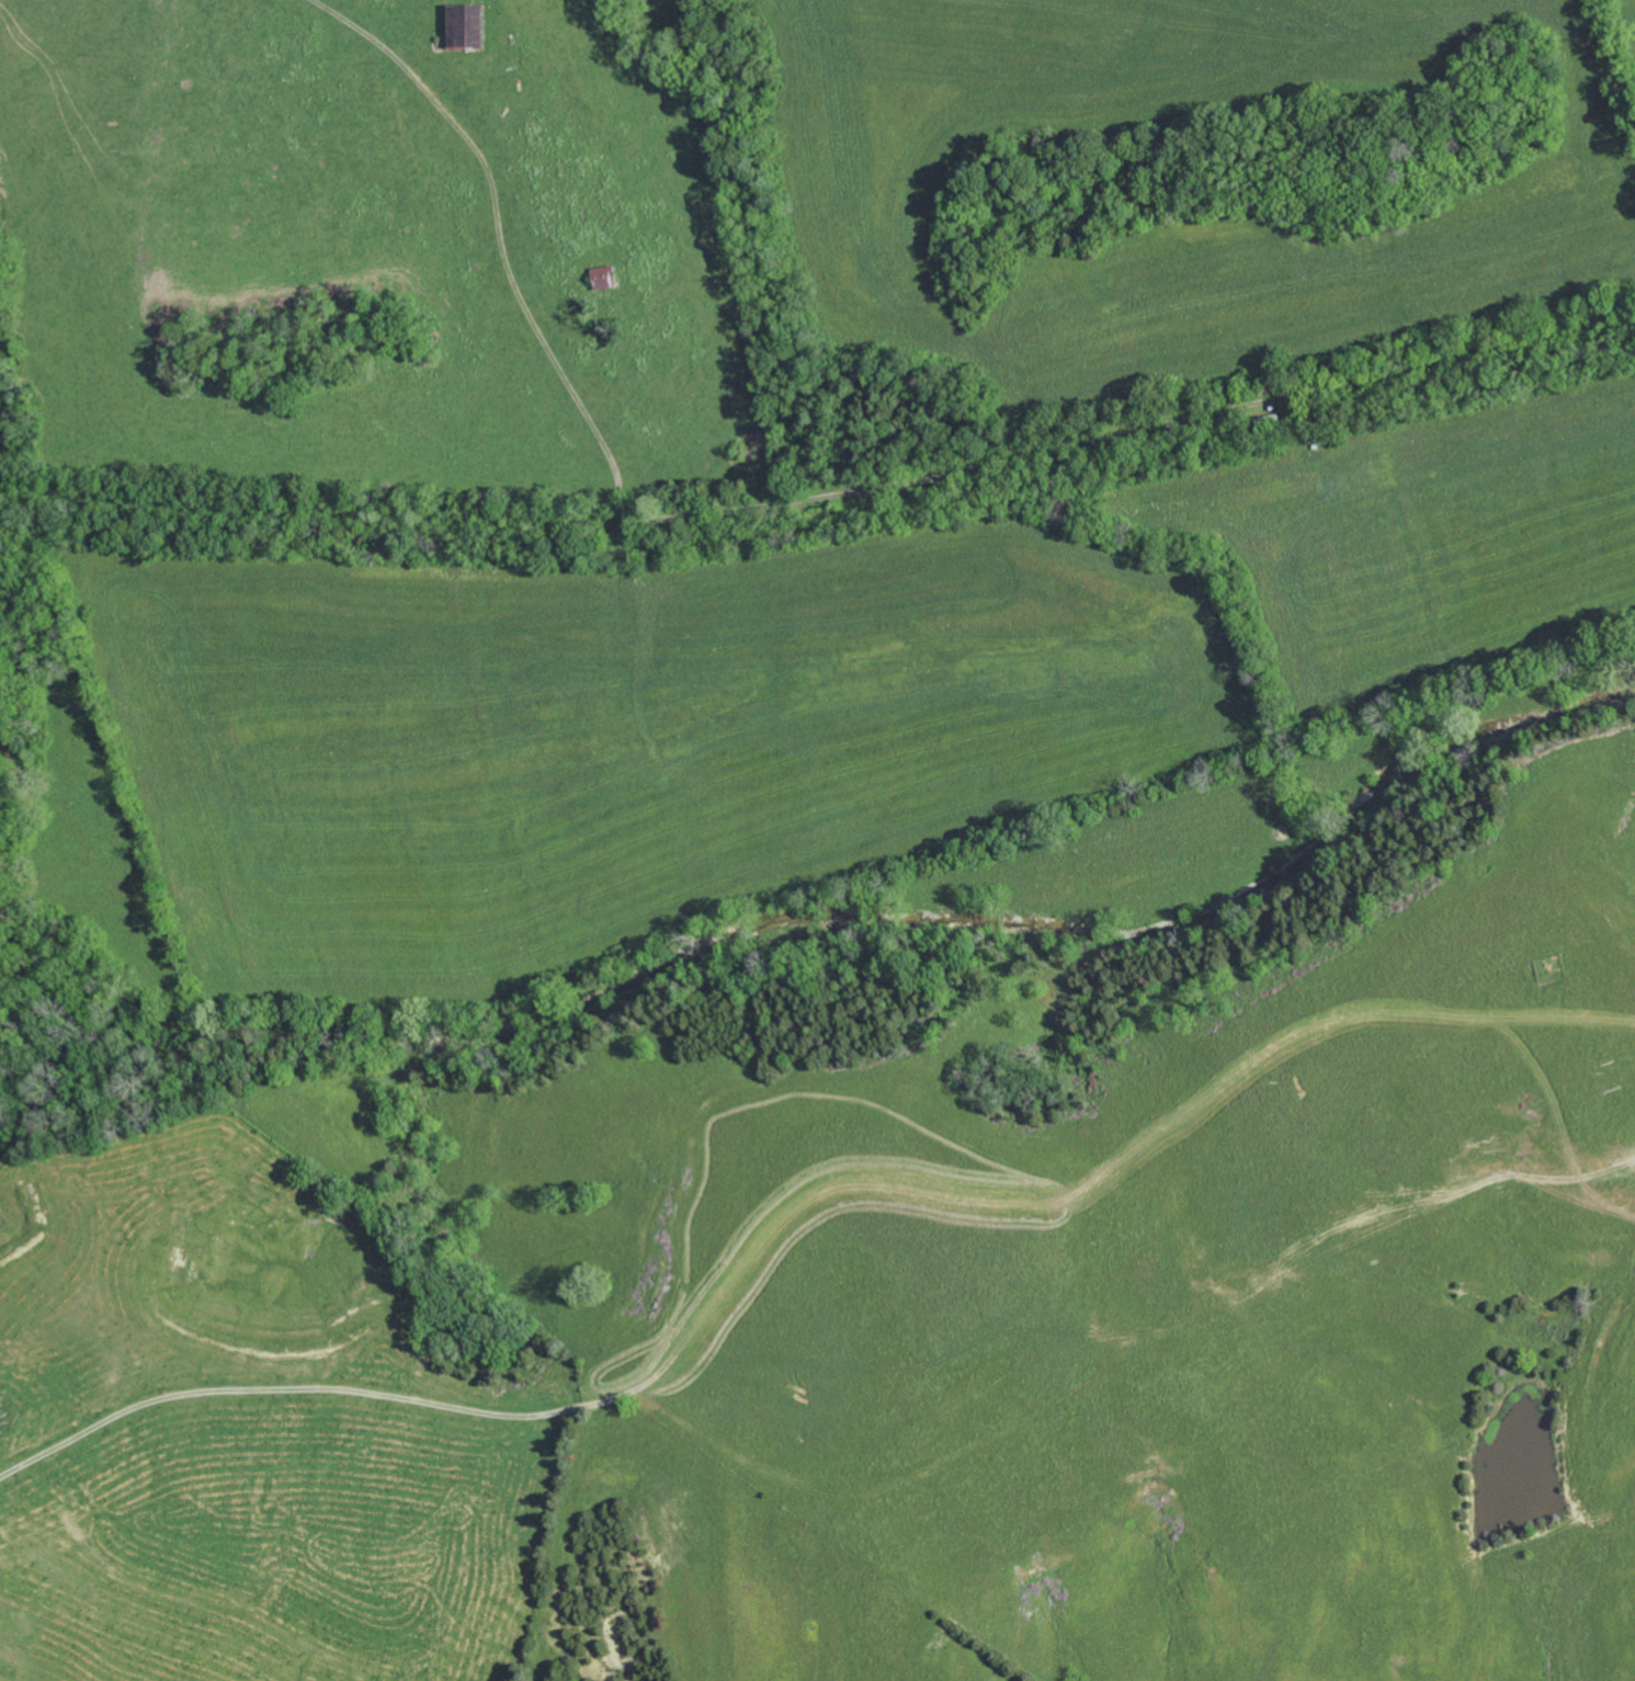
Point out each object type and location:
building: (470, 26)
road: (103, 513)
park: (1553, 968)
road: (251, 1393)

